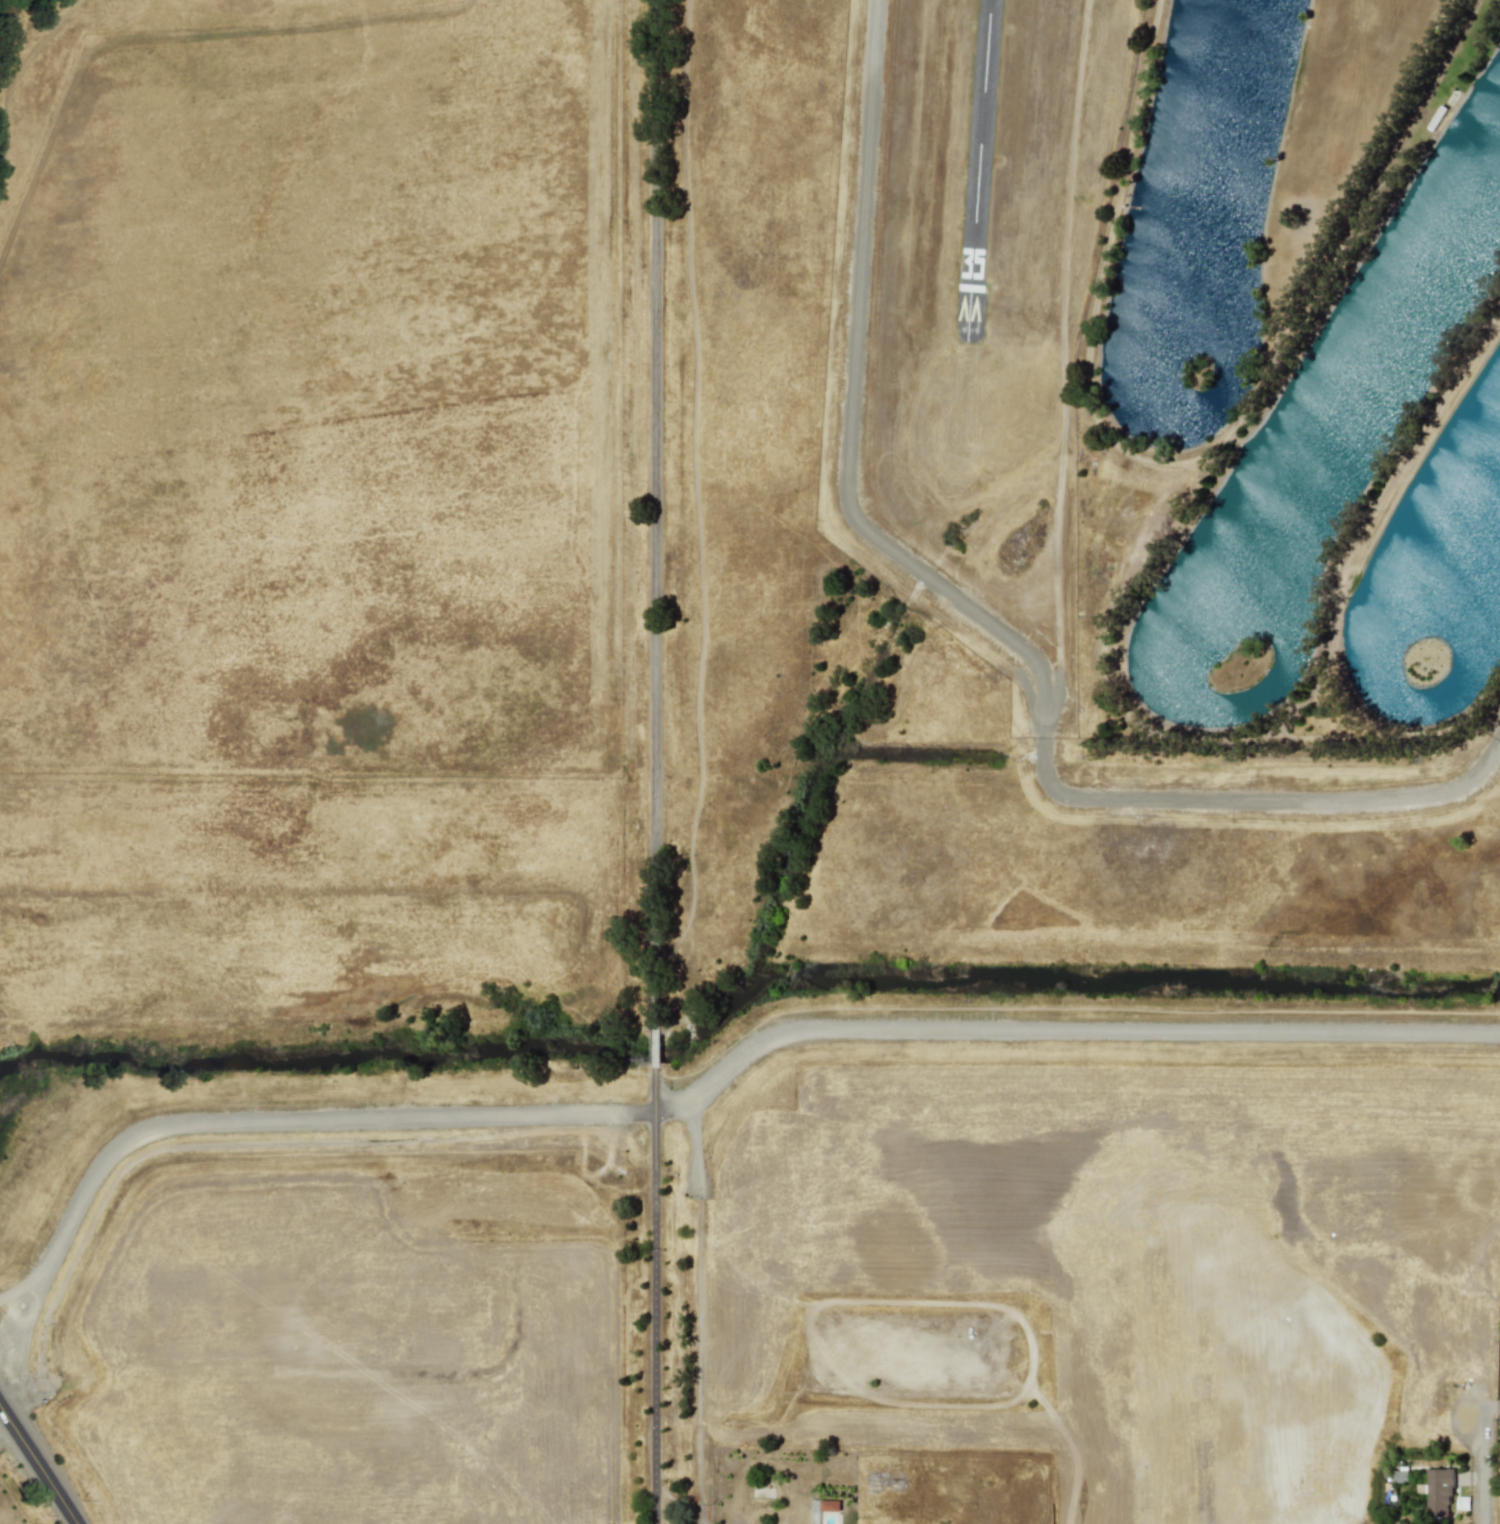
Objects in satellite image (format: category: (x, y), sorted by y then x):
airport runway: (979, 167)
road: (655, 512)
crop: (390, 552)
road: (980, 612)
road: (658, 1045)
road: (710, 1085)
road: (689, 1153)
road: (660, 1294)
road: (695, 1362)
road: (40, 1461)
road: (1486, 1471)
building: (1438, 1491)
building: (829, 1505)

